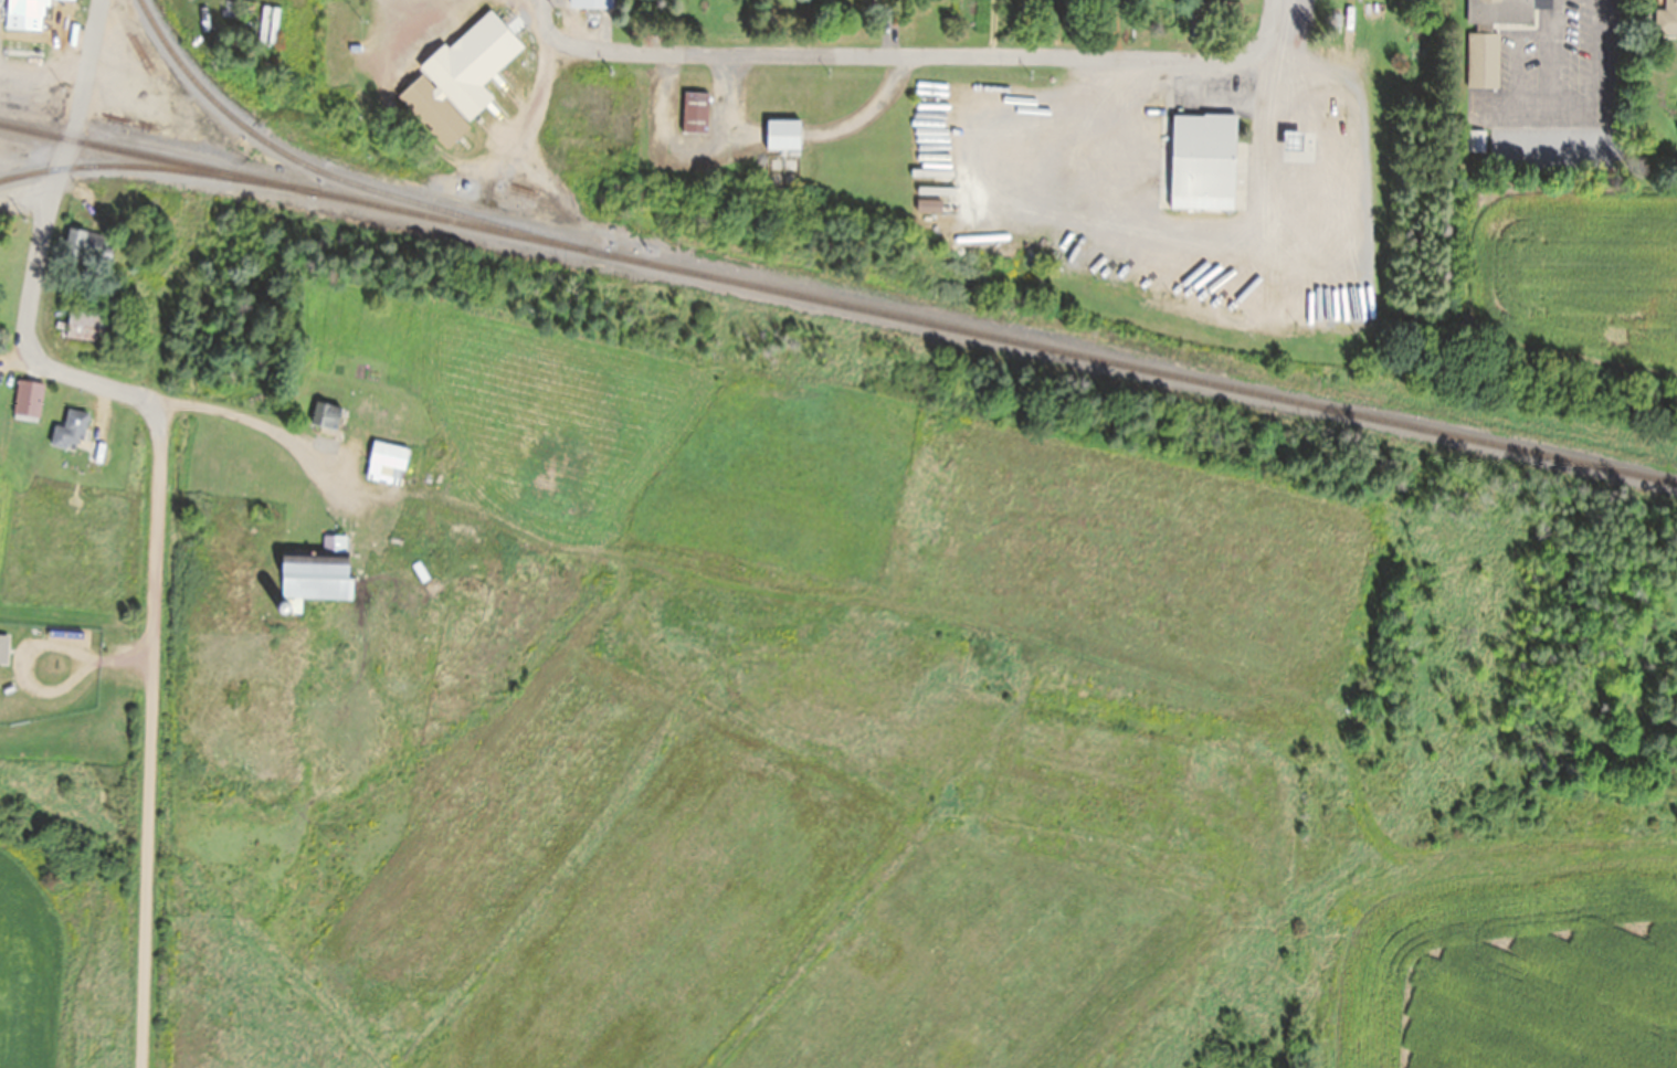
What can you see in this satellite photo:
building: (591, 4)
building: (25, 9)
road: (992, 28)
road: (1280, 28)
road: (911, 55)
road: (555, 57)
building: (458, 81)
building: (1564, 98)
building: (695, 114)
building: (782, 134)
building: (1203, 162)
railway: (156, 166)
railway: (338, 178)
building: (83, 244)
railway: (838, 303)
building: (85, 322)
building: (28, 400)
building: (325, 415)
road: (256, 425)
building: (70, 431)
building: (389, 452)
building: (95, 456)
road: (160, 488)
building: (314, 574)
building: (3, 648)
road: (1020, 669)

